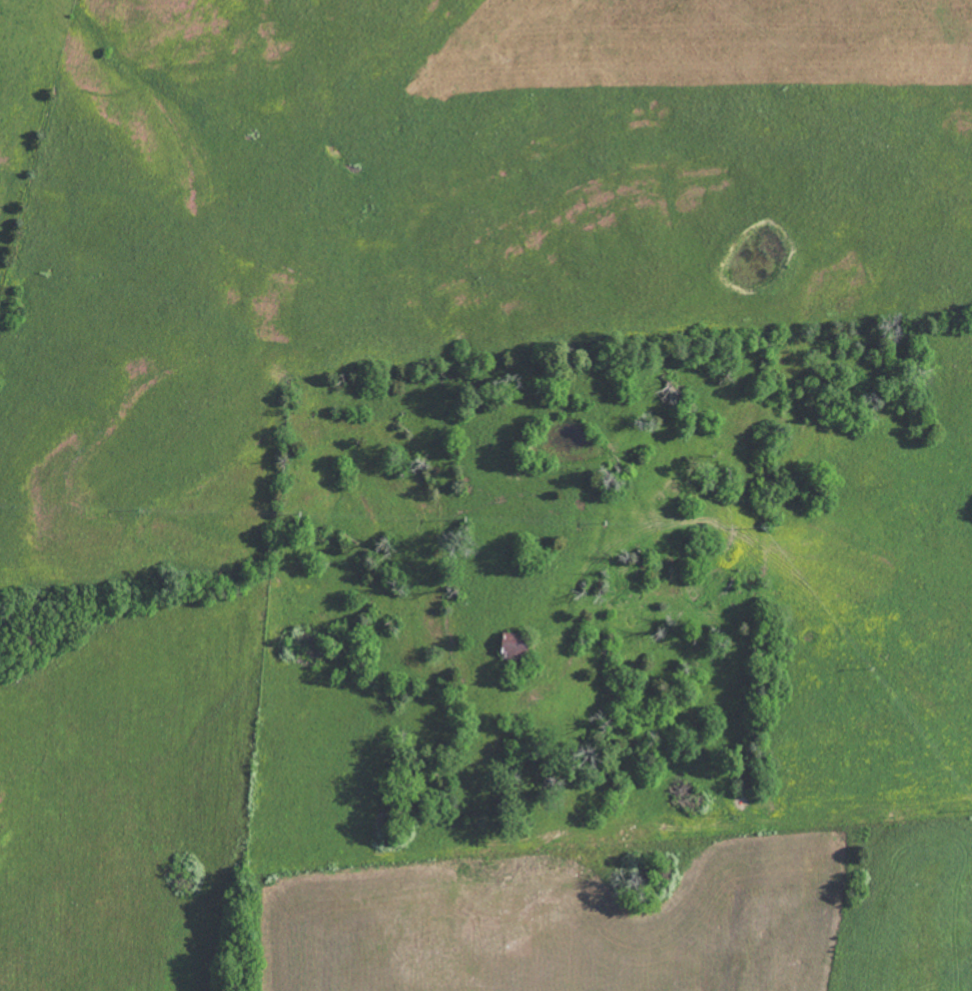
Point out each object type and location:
building: (514, 645)

